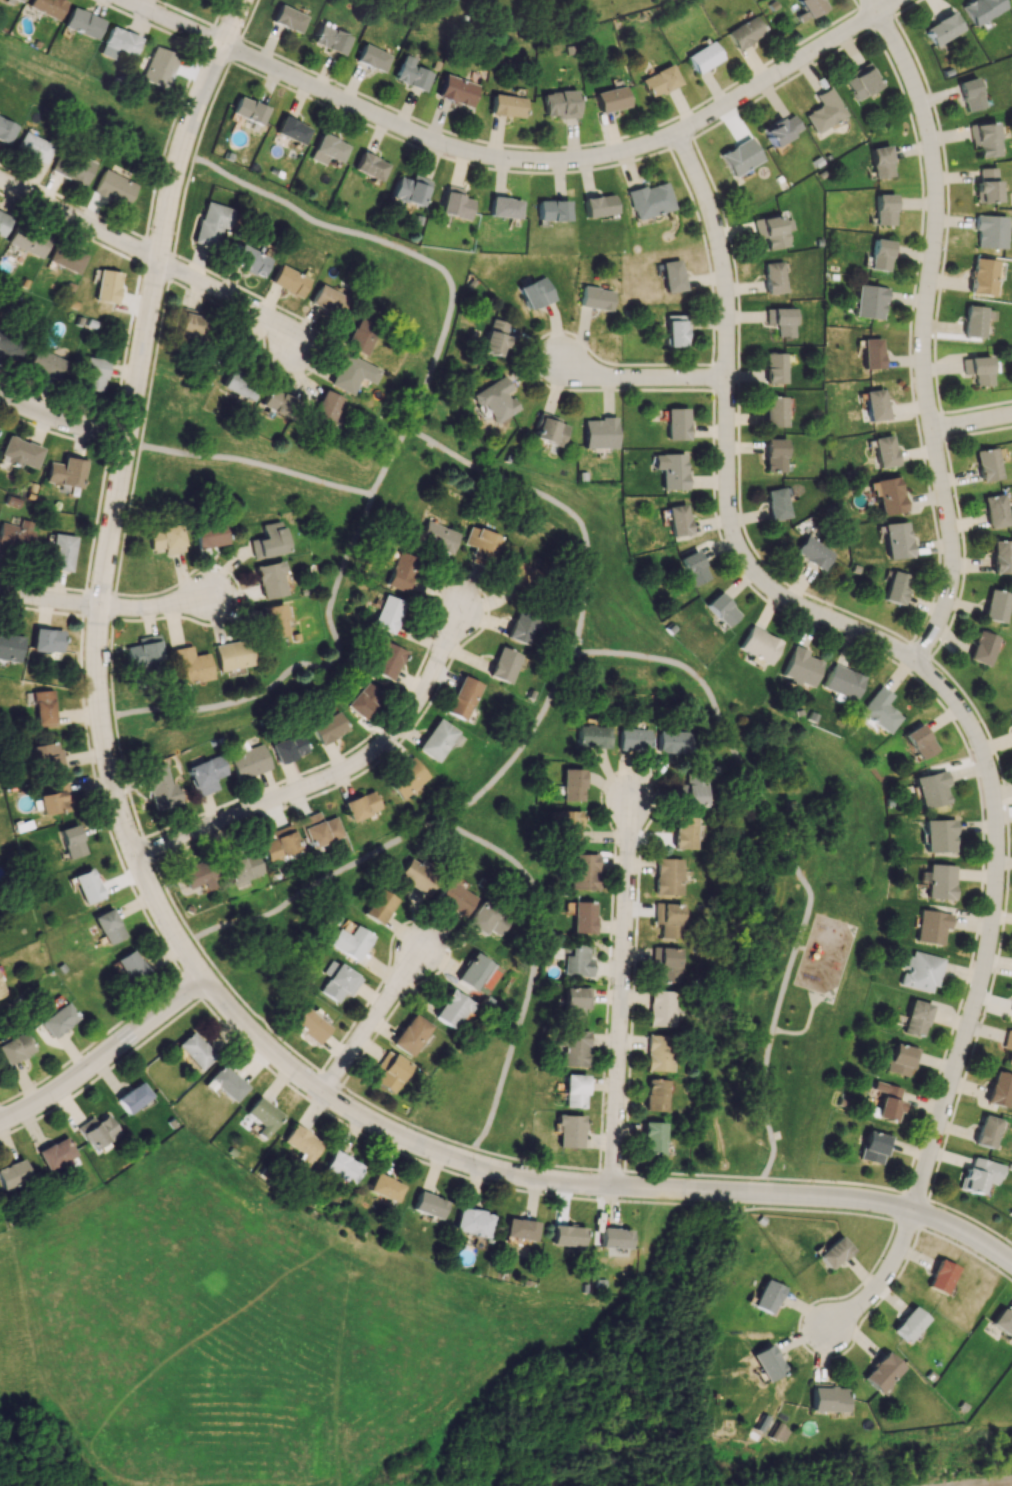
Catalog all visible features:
building: (17, 0)
building: (1010, 0)
building: (47, 7)
building: (809, 8)
building: (980, 9)
building: (289, 18)
building: (83, 23)
road: (177, 25)
building: (941, 29)
building: (745, 32)
building: (331, 39)
building: (118, 43)
building: (703, 57)
building: (373, 58)
building: (160, 67)
building: (411, 74)
building: (660, 81)
building: (860, 82)
building: (457, 90)
building: (969, 94)
building: (611, 99)
building: (559, 104)
building: (507, 106)
building: (248, 110)
building: (823, 111)
building: (780, 129)
building: (291, 130)
building: (5, 131)
building: (984, 139)
building: (33, 147)
building: (327, 149)
building: (739, 157)
road: (572, 161)
building: (879, 162)
building: (370, 166)
building: (71, 168)
building: (985, 185)
building: (114, 187)
building: (410, 190)
building: (649, 200)
building: (454, 203)
building: (597, 205)
building: (503, 207)
building: (883, 209)
building: (551, 210)
road: (167, 215)
building: (3, 222)
building: (211, 223)
building: (772, 230)
building: (989, 231)
building: (28, 240)
building: (879, 254)
building: (65, 258)
road: (153, 260)
building: (252, 261)
building: (671, 276)
building: (982, 276)
building: (773, 277)
building: (290, 281)
building: (107, 286)
building: (535, 293)
building: (595, 298)
building: (328, 299)
building: (869, 301)
building: (780, 320)
building: (973, 321)
building: (191, 325)
road: (924, 329)
building: (674, 331)
building: (361, 334)
building: (493, 341)
building: (10, 344)
building: (871, 353)
building: (45, 363)
building: (775, 368)
building: (977, 369)
building: (352, 373)
building: (93, 374)
road: (644, 378)
building: (239, 385)
building: (495, 400)
building: (276, 403)
building: (874, 404)
building: (325, 407)
building: (775, 411)
road: (63, 422)
building: (676, 423)
road: (972, 423)
building: (548, 429)
building: (598, 432)
road: (729, 444)
road: (402, 445)
building: (883, 451)
building: (19, 452)
building: (775, 455)
road: (255, 462)
building: (987, 464)
building: (670, 470)
building: (65, 472)
building: (887, 495)
building: (777, 503)
building: (995, 510)
building: (677, 519)
building: (210, 535)
building: (15, 537)
building: (437, 537)
building: (166, 538)
building: (895, 540)
building: (269, 541)
building: (481, 544)
building: (61, 552)
building: (813, 552)
building: (1001, 557)
building: (692, 567)
building: (400, 571)
building: (522, 574)
building: (270, 579)
building: (895, 587)
building: (996, 605)
building: (721, 609)
road: (109, 611)
building: (387, 613)
building: (275, 620)
building: (522, 626)
building: (46, 640)
building: (758, 644)
building: (10, 646)
building: (982, 648)
building: (144, 650)
building: (386, 660)
park: (624, 663)
building: (189, 665)
building: (503, 665)
building: (799, 667)
building: (842, 682)
building: (461, 698)
building: (363, 700)
building: (43, 708)
building: (879, 710)
building: (1011, 715)
road: (100, 723)
road: (537, 724)
building: (327, 727)
building: (591, 736)
building: (632, 739)
building: (437, 740)
building: (673, 741)
building: (919, 741)
building: (288, 748)
building: (45, 756)
building: (248, 760)
building: (205, 774)
road: (333, 778)
building: (406, 778)
building: (571, 785)
building: (158, 787)
building: (931, 789)
building: (693, 790)
building: (52, 798)
building: (360, 805)
building: (565, 824)
building: (318, 829)
building: (685, 832)
building: (939, 835)
building: (71, 841)
building: (279, 842)
road: (799, 864)
building: (241, 868)
building: (584, 871)
building: (197, 874)
building: (417, 875)
building: (668, 876)
building: (940, 881)
building: (86, 886)
building: (453, 896)
building: (378, 906)
building: (582, 917)
building: (486, 918)
building: (669, 919)
building: (108, 926)
building: (931, 926)
road: (994, 928)
building: (348, 942)
building: (572, 959)
building: (129, 965)
building: (665, 965)
road: (533, 971)
building: (919, 971)
building: (476, 973)
building: (338, 981)
building: (1, 992)
road: (625, 995)
building: (575, 1003)
building: (661, 1008)
building: (451, 1009)
building: (1011, 1011)
building: (916, 1018)
building: (58, 1019)
building: (309, 1025)
road: (371, 1025)
road: (804, 1025)
building: (410, 1034)
building: (1008, 1046)
building: (573, 1047)
building: (15, 1048)
building: (194, 1050)
building: (658, 1052)
road: (106, 1057)
building: (901, 1059)
building: (390, 1071)
building: (224, 1083)
building: (999, 1089)
building: (574, 1090)
building: (654, 1094)
building: (132, 1097)
road: (310, 1099)
building: (887, 1101)
building: (262, 1116)
road: (405, 1121)
building: (97, 1131)
building: (569, 1131)
building: (986, 1131)
building: (652, 1137)
building: (301, 1144)
building: (874, 1146)
building: (54, 1153)
building: (341, 1167)
building: (12, 1174)
building: (979, 1174)
road: (584, 1186)
building: (383, 1187)
building: (427, 1205)
building: (472, 1222)
building: (519, 1229)
building: (567, 1235)
building: (614, 1237)
building: (833, 1252)
road: (886, 1274)
building: (940, 1276)
building: (766, 1296)
building: (1002, 1322)
building: (908, 1324)
building: (767, 1362)
building: (881, 1372)
building: (827, 1398)
building: (777, 1432)

